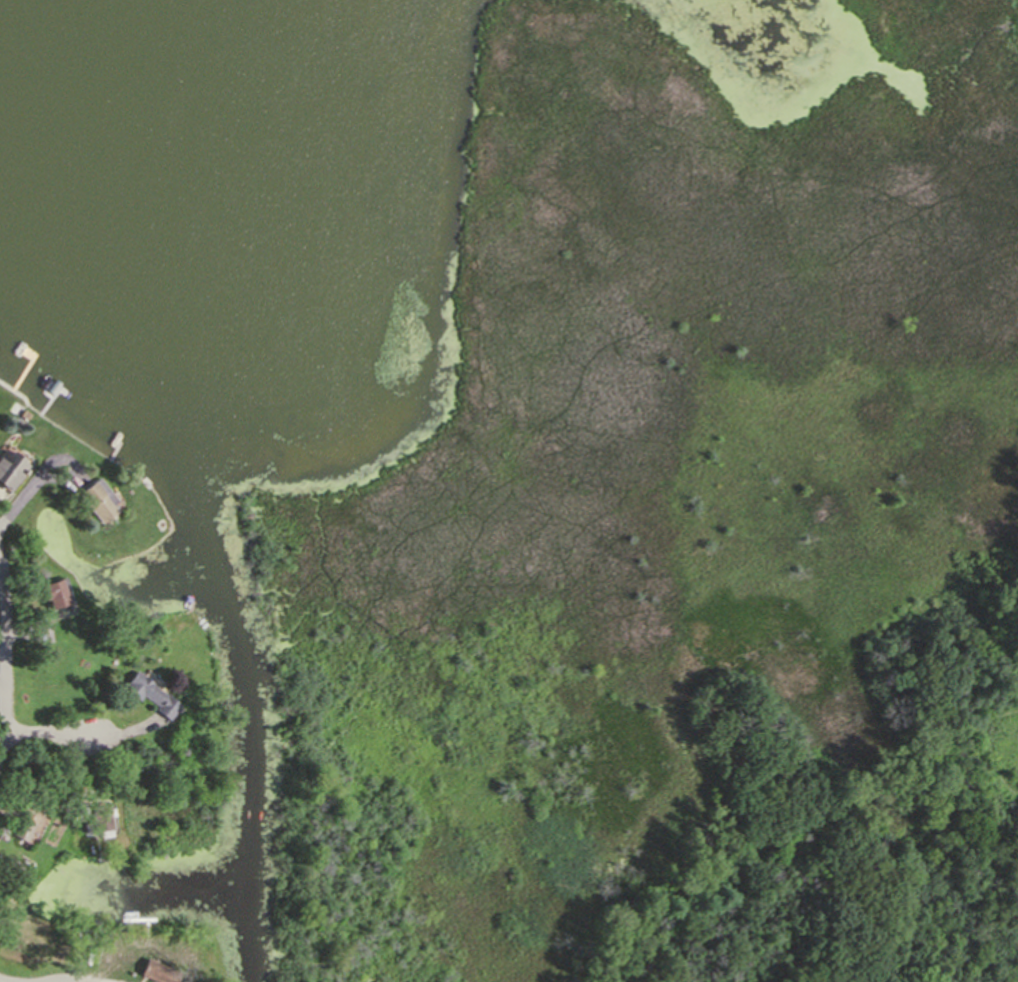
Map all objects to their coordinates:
building: (30, 420)
road: (69, 467)
building: (12, 474)
park: (683, 492)
road: (20, 498)
building: (96, 498)
building: (54, 595)
road: (3, 663)
building: (149, 694)
road: (47, 734)
road: (991, 748)
building: (62, 804)
building: (102, 817)
building: (24, 824)
building: (12, 865)
building: (121, 957)
building: (158, 971)
road: (1, 981)
building: (140, 981)

